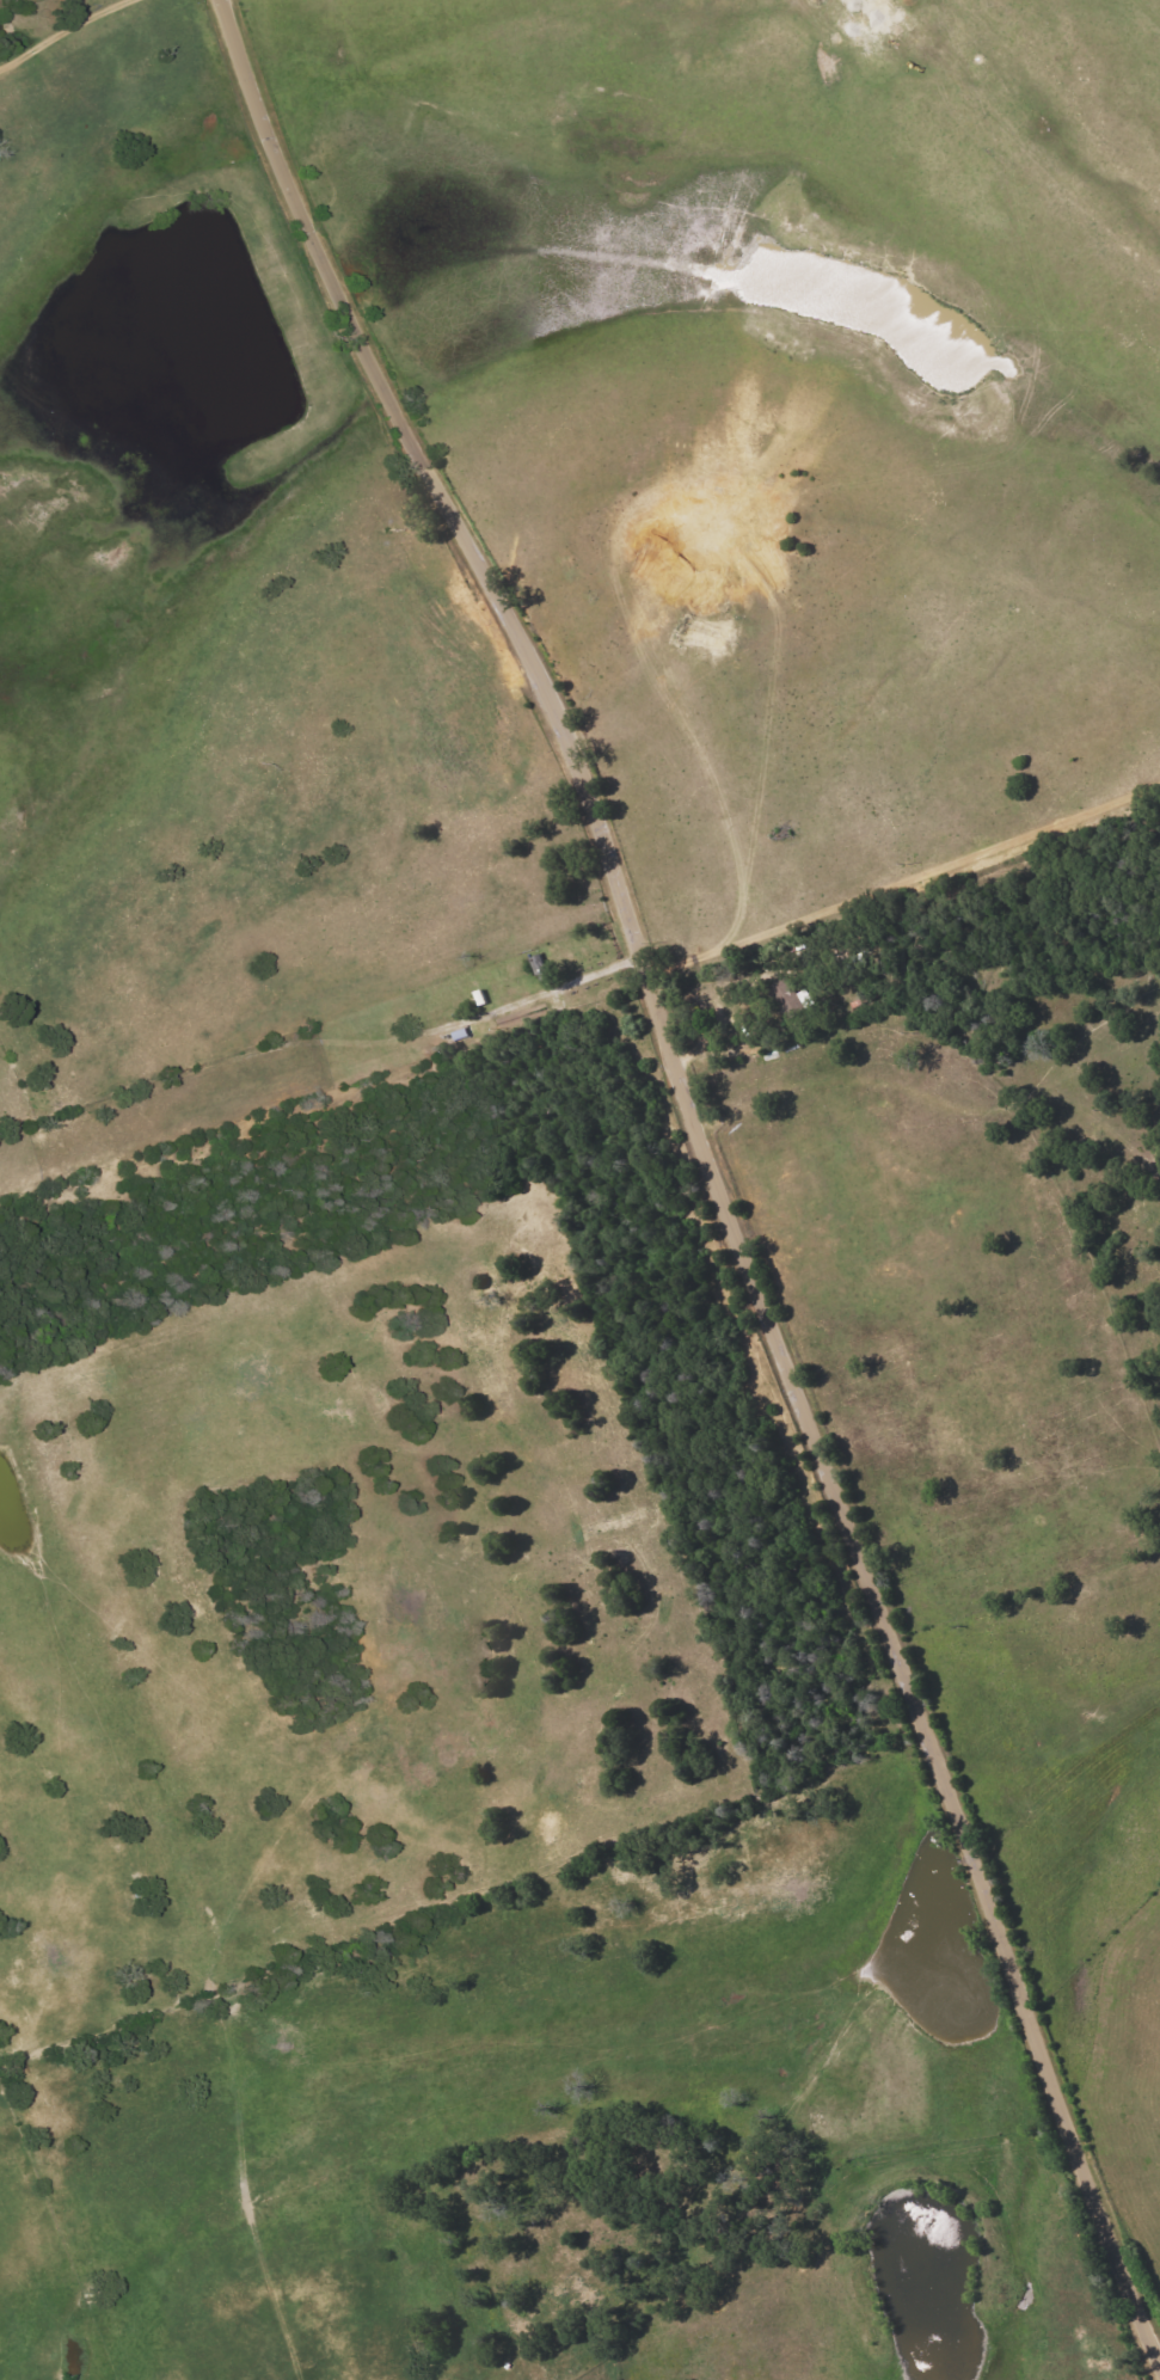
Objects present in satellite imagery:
road: (68, 32)
road: (831, 591)
road: (863, 896)
road: (553, 989)
road: (710, 1171)

